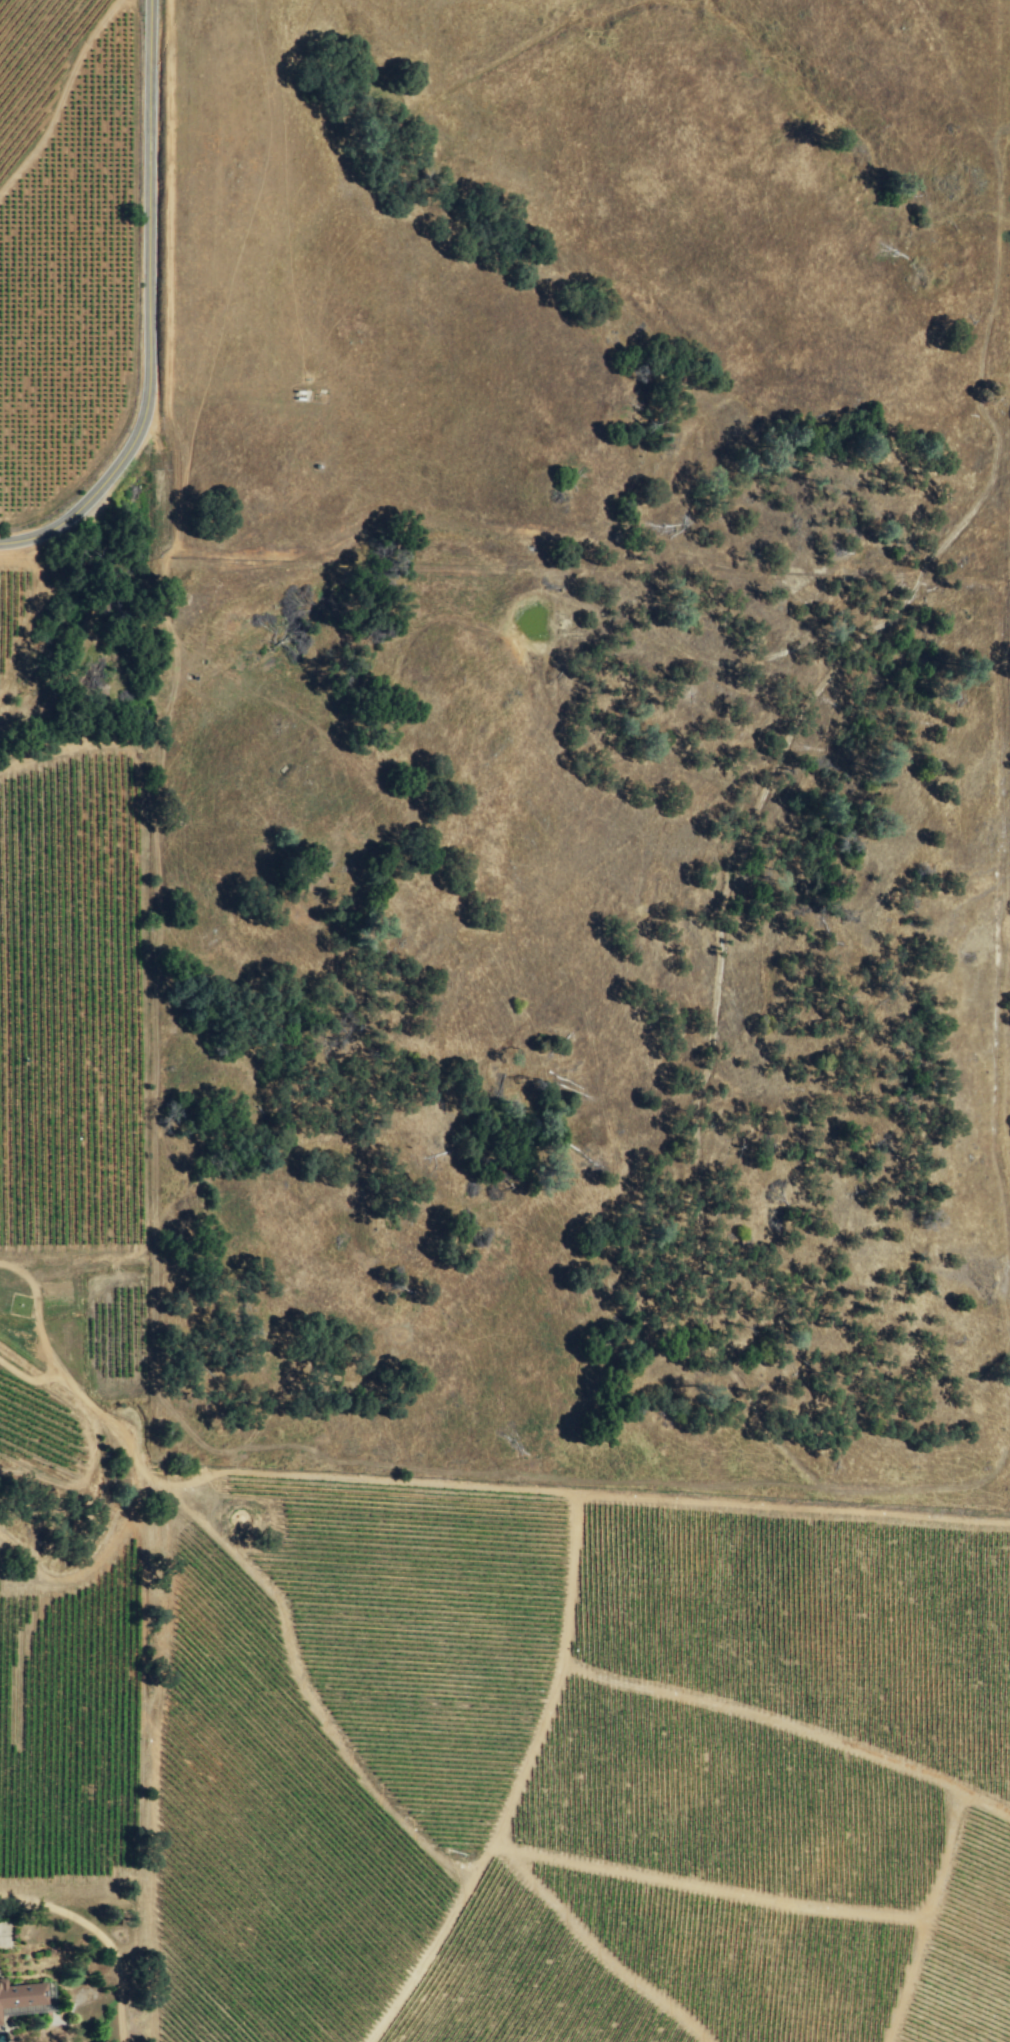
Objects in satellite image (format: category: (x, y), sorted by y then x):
road: (163, 330)
building: (21, 1995)

